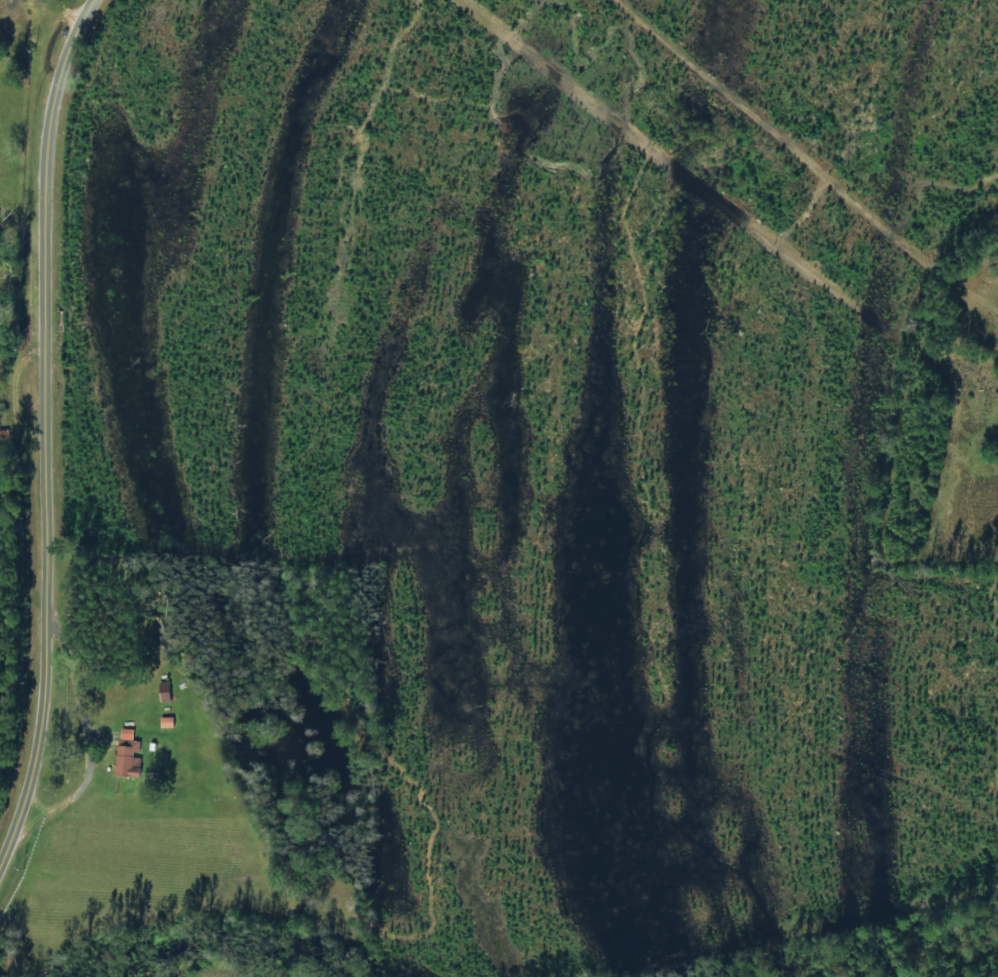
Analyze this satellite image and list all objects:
road: (782, 163)
road: (44, 429)
building: (128, 754)
road: (12, 778)

